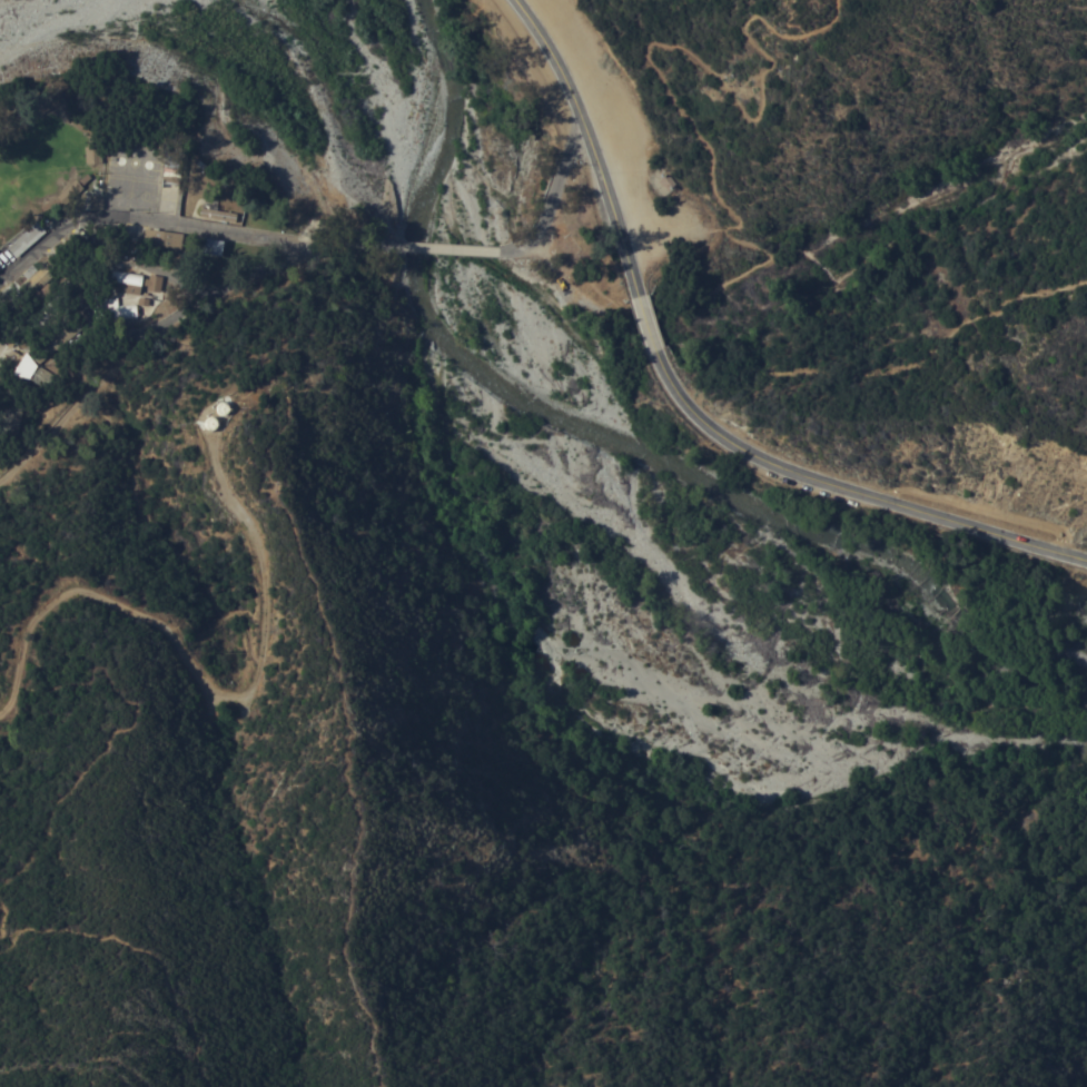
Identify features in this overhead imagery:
building: (55, 103)
road: (683, 109)
road: (591, 141)
building: (95, 152)
building: (174, 165)
building: (668, 180)
building: (69, 190)
road: (556, 197)
building: (97, 200)
building: (218, 211)
road: (138, 219)
building: (162, 237)
building: (27, 238)
building: (211, 246)
road: (444, 249)
building: (47, 267)
building: (134, 279)
road: (248, 281)
building: (39, 297)
building: (113, 307)
building: (46, 310)
road: (646, 325)
building: (33, 373)
road: (838, 373)
building: (223, 409)
storage tank: (223, 409)
road: (62, 415)
building: (210, 424)
storage tank: (210, 424)
road: (850, 487)
river: (552, 522)
road: (214, 679)

